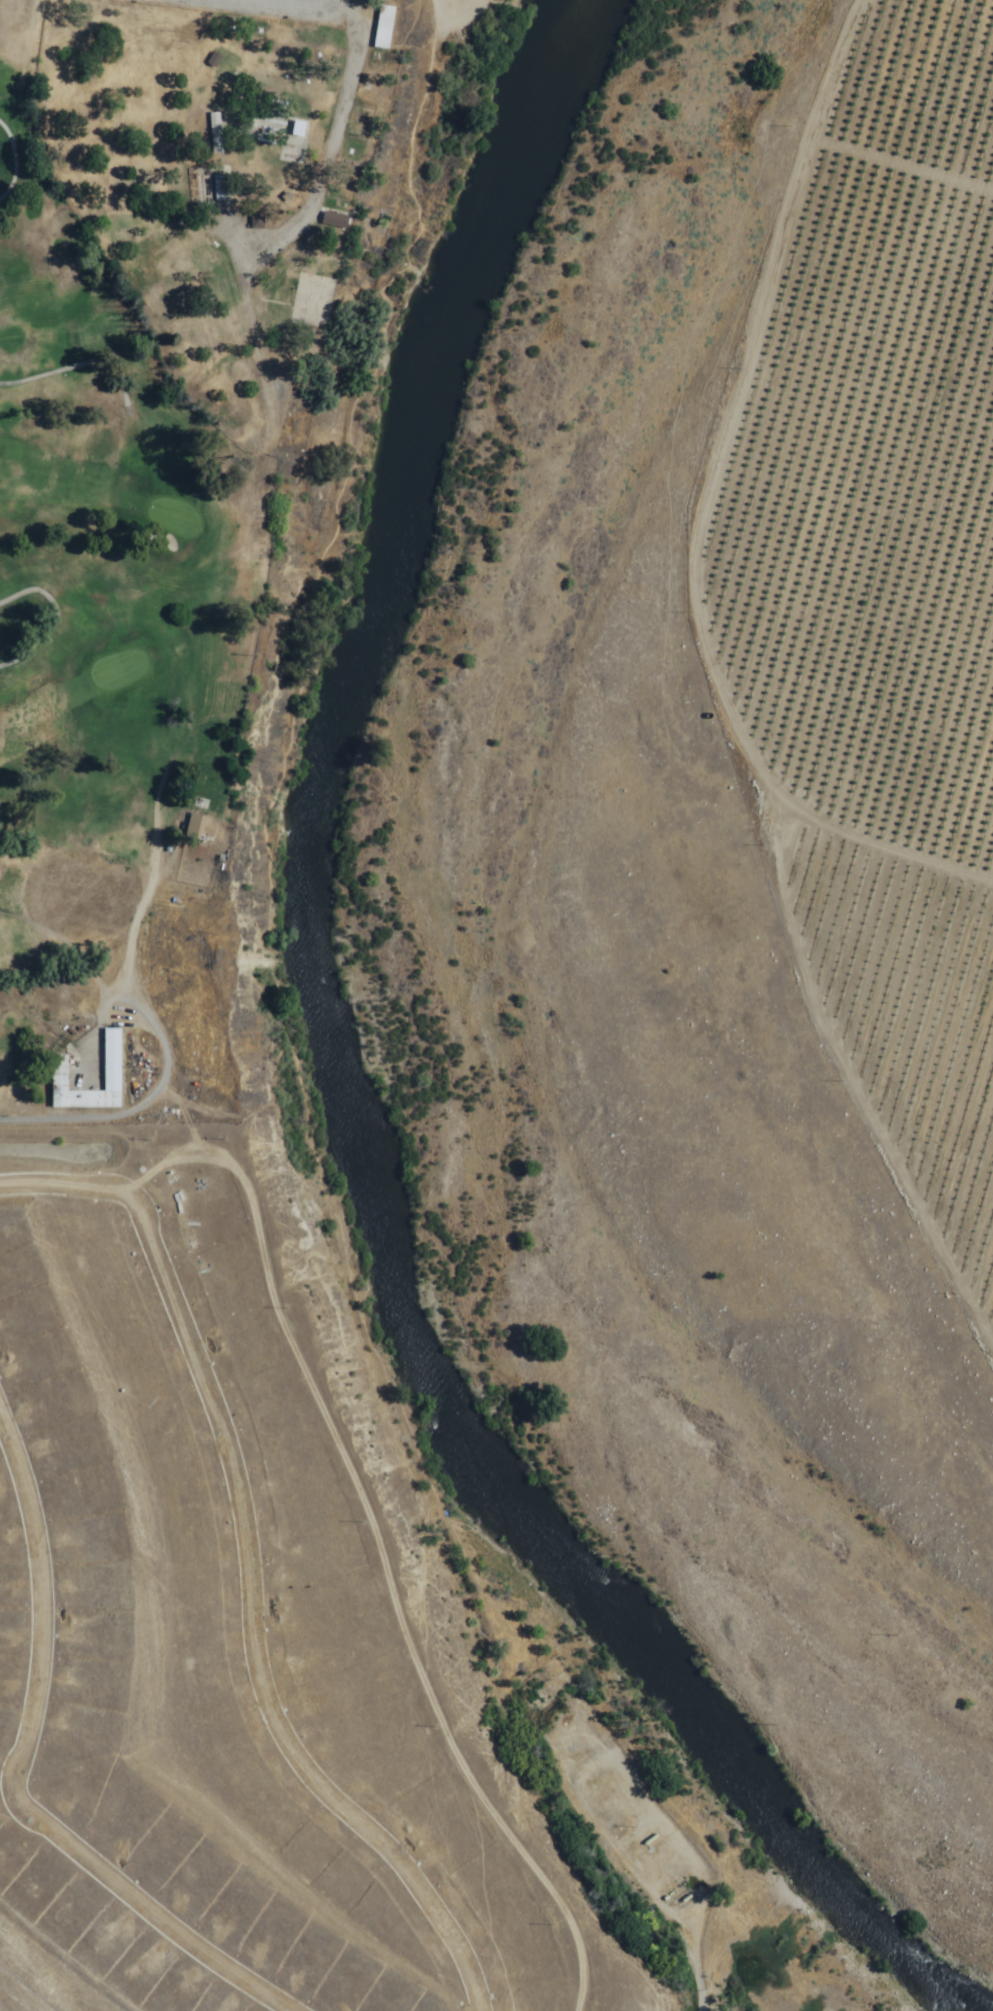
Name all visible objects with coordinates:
road: (330, 3)
building: (381, 27)
building: (296, 128)
building: (213, 133)
building: (332, 220)
park: (254, 506)
park: (224, 520)
park: (224, 520)
road: (698, 520)
crop: (886, 620)
building: (197, 826)
building: (110, 1073)
river: (337, 1075)

